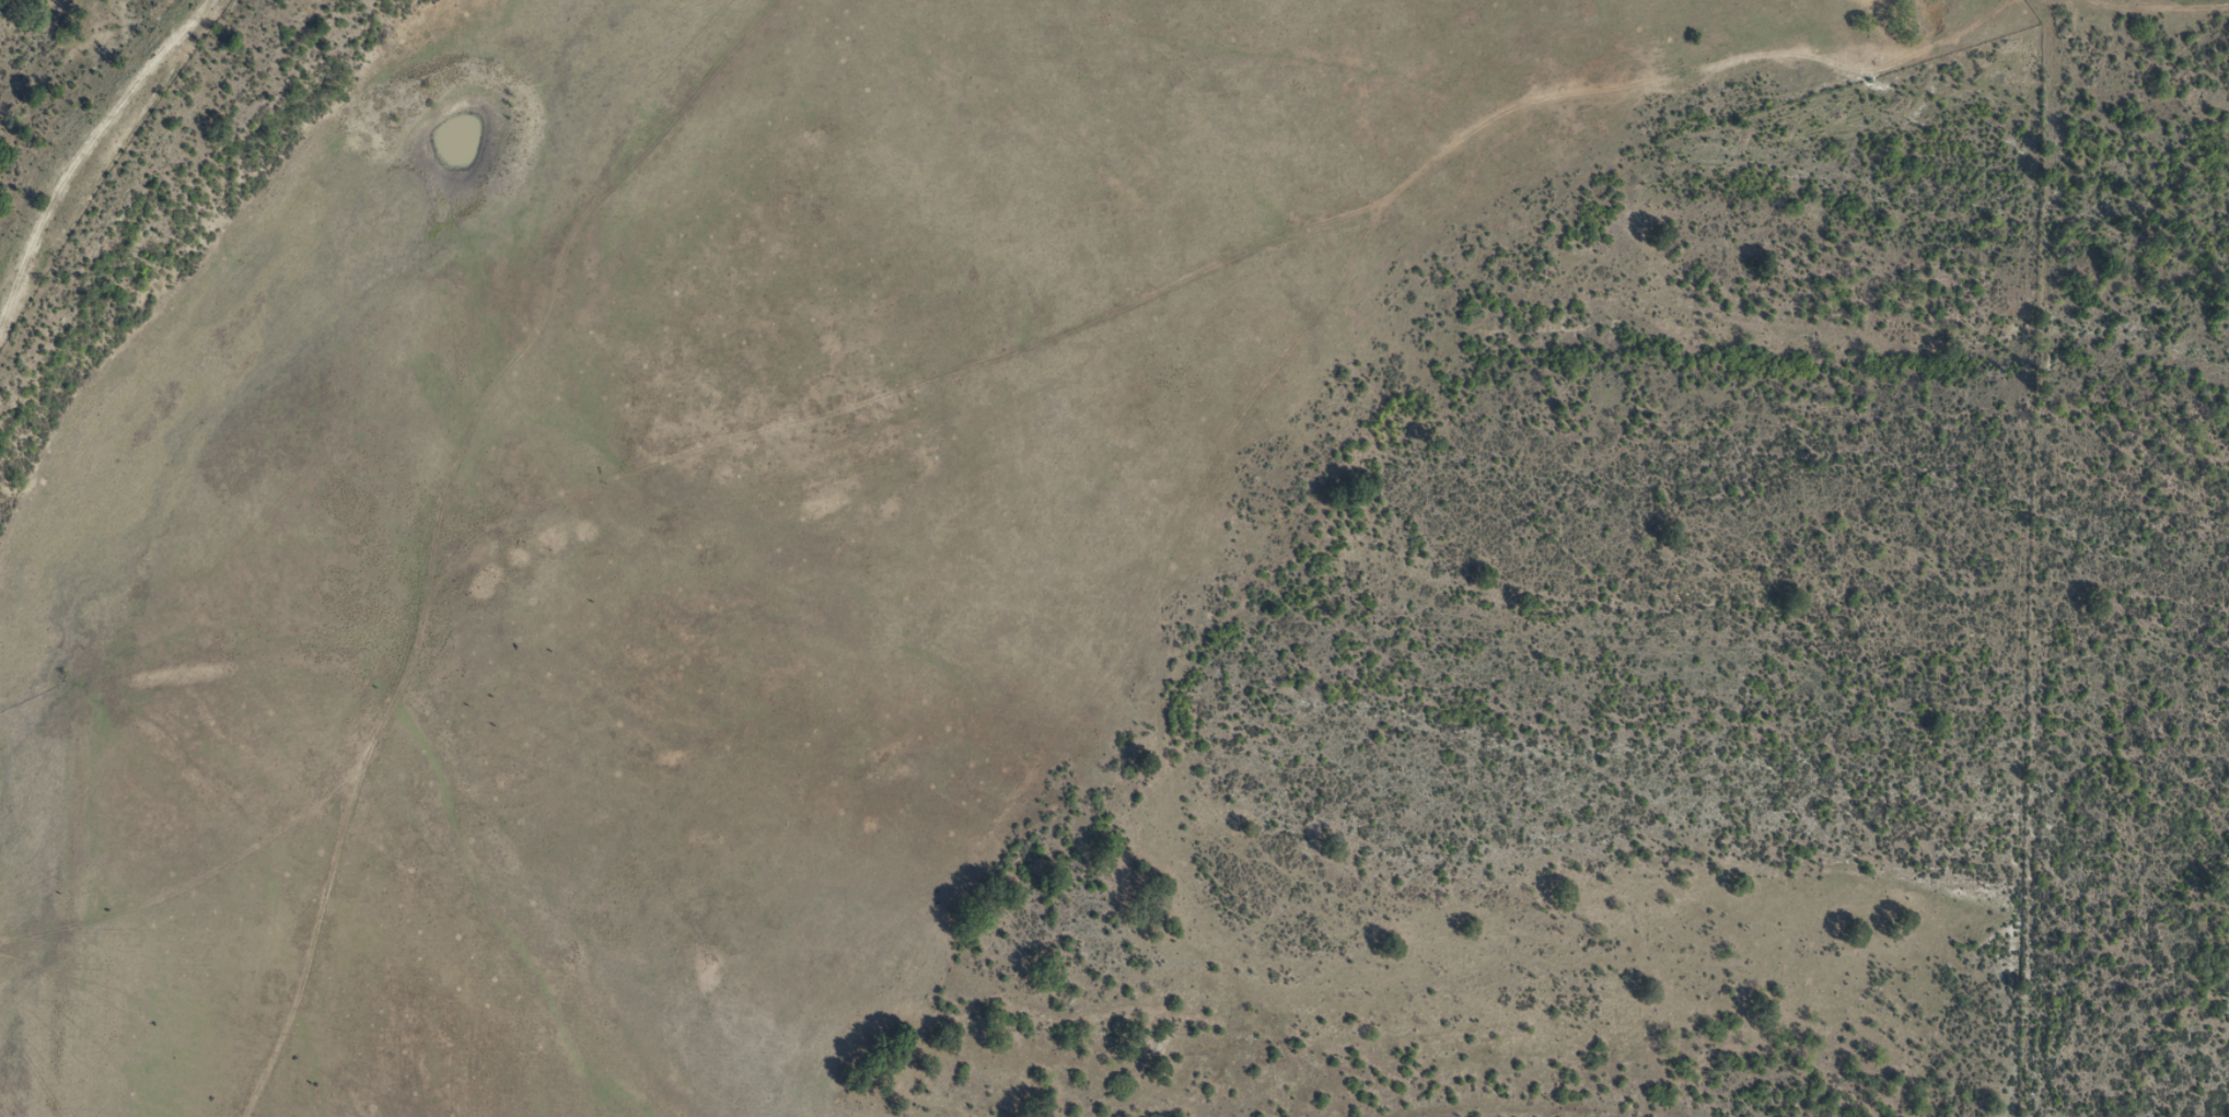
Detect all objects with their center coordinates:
road: (130, 207)
road: (1201, 546)

